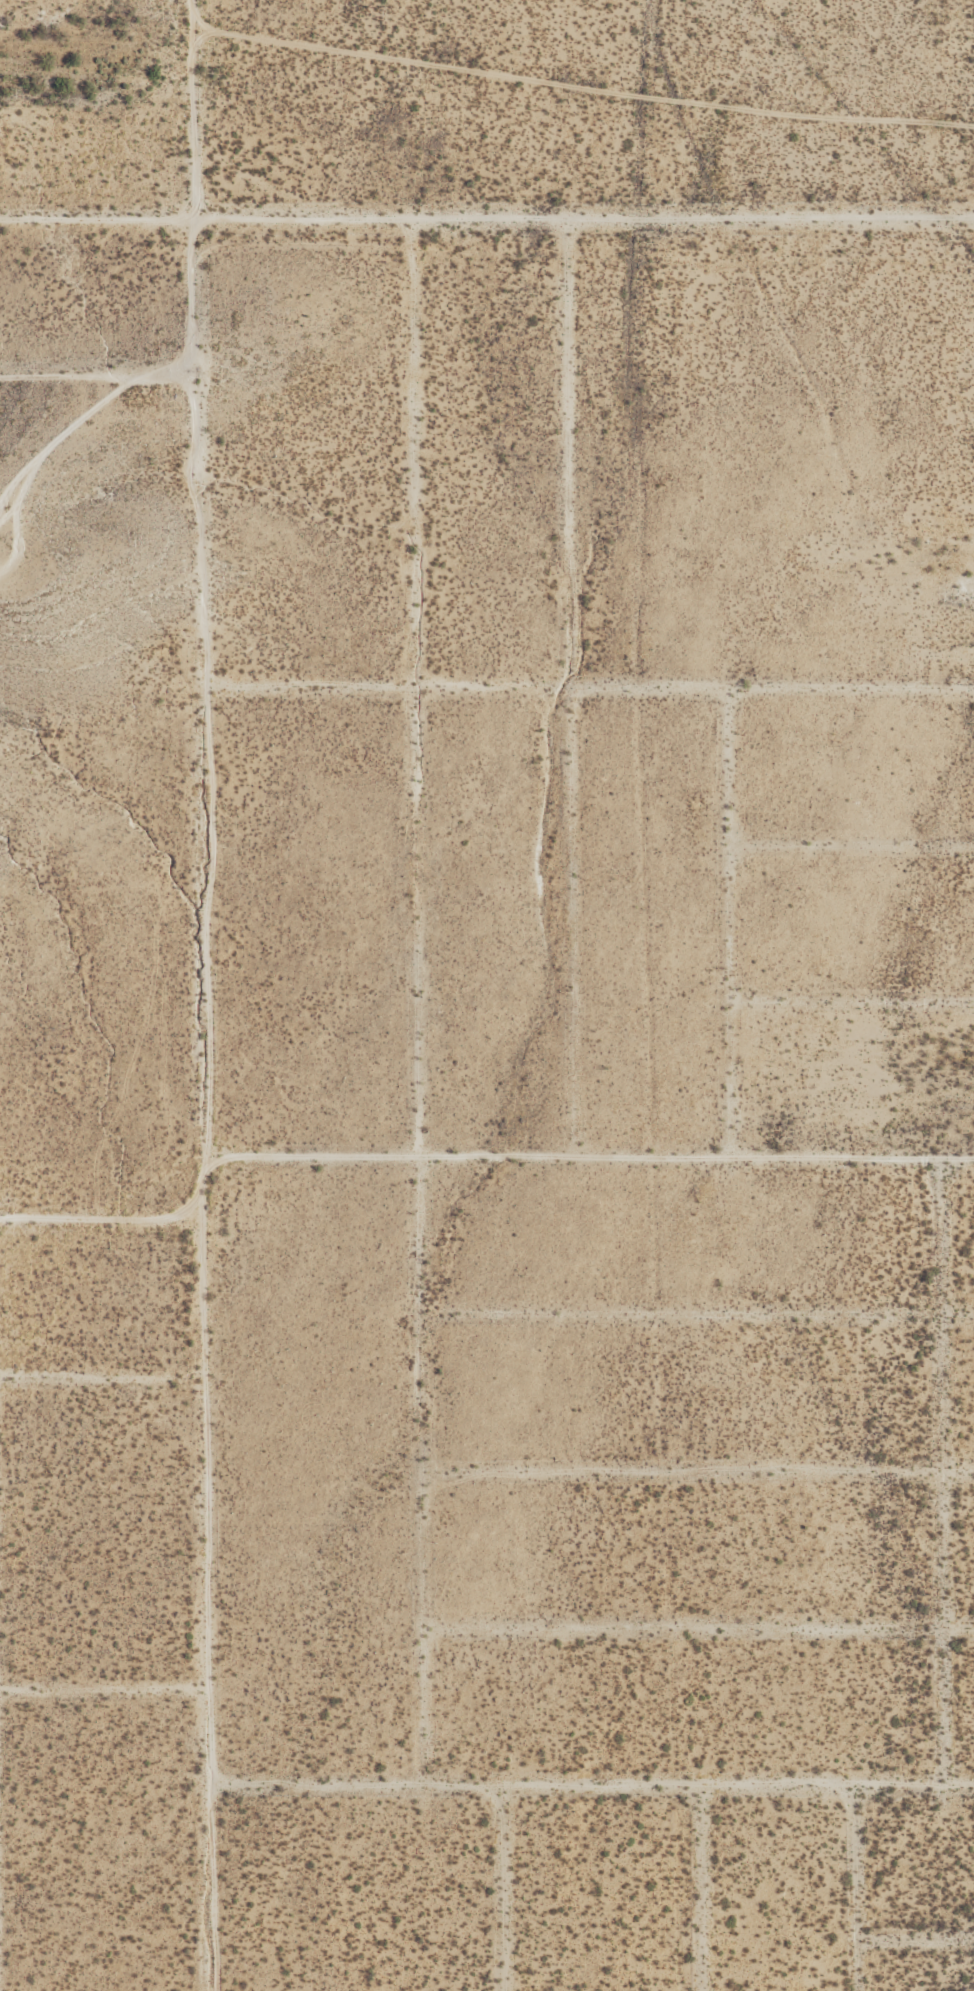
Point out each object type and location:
road: (578, 91)
road: (486, 219)
road: (835, 297)
road: (97, 372)
road: (67, 430)
road: (569, 461)
road: (6, 513)
road: (12, 542)
road: (587, 704)
road: (852, 846)
road: (576, 930)
road: (731, 930)
road: (207, 995)
road: (852, 1001)
road: (418, 1003)
road: (591, 1157)
road: (101, 1222)
road: (697, 1312)
road: (102, 1379)
road: (698, 1470)
road: (945, 1471)
road: (699, 1628)
road: (104, 1691)
road: (592, 1787)
road: (856, 1888)
road: (506, 1889)
road: (705, 1889)
road: (916, 1942)

